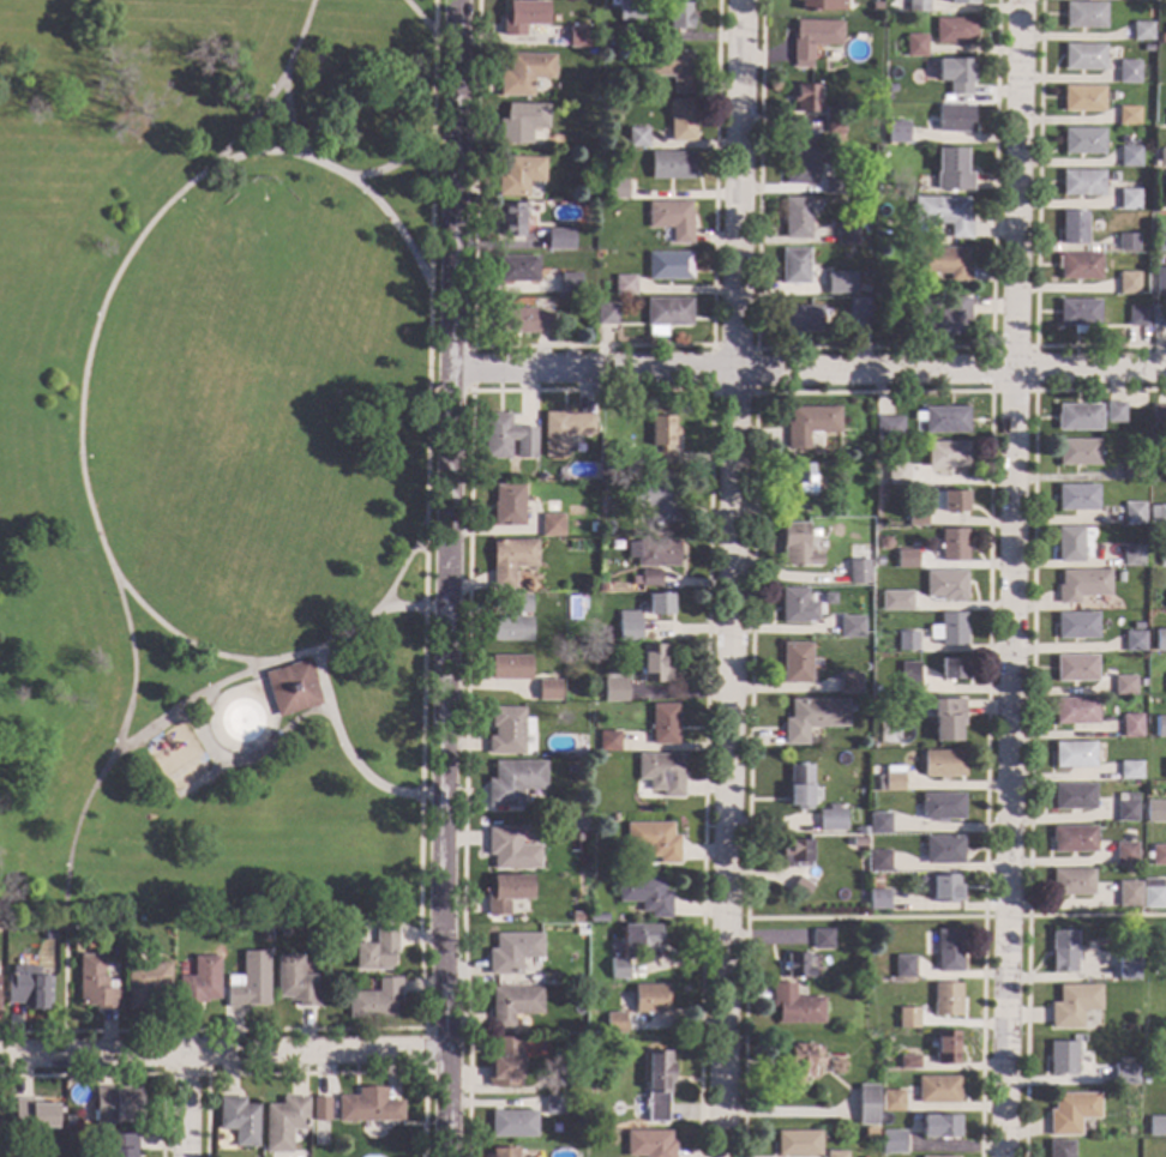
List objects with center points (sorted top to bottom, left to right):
building: (1138, 0)
building: (962, 1)
building: (1165, 1)
building: (822, 5)
building: (918, 5)
building: (876, 7)
building: (624, 11)
building: (633, 12)
building: (595, 13)
road: (417, 14)
building: (679, 16)
building: (1086, 16)
building: (523, 17)
building: (847, 28)
building: (955, 31)
building: (1142, 31)
building: (578, 37)
building: (813, 37)
building: (1161, 38)
building: (915, 46)
building: (1083, 58)
building: (673, 70)
building: (524, 73)
building: (957, 76)
building: (1128, 76)
road: (270, 91)
building: (889, 96)
building: (807, 100)
building: (1083, 100)
building: (1129, 116)
building: (952, 119)
building: (681, 121)
building: (522, 122)
building: (835, 123)
building: (897, 132)
building: (637, 138)
building: (1083, 141)
building: (1130, 157)
building: (1162, 158)
building: (1154, 164)
building: (671, 165)
road: (331, 167)
building: (801, 167)
building: (952, 170)
building: (519, 176)
building: (1113, 176)
building: (1083, 183)
building: (833, 186)
building: (617, 189)
building: (1129, 200)
building: (1164, 200)
building: (944, 215)
building: (1158, 217)
building: (797, 218)
building: (511, 219)
building: (672, 219)
building: (1075, 229)
building: (847, 234)
road: (1036, 237)
building: (560, 240)
building: (1128, 242)
building: (1161, 243)
building: (866, 260)
building: (945, 263)
building: (669, 266)
building: (794, 266)
building: (1081, 267)
building: (517, 269)
building: (1129, 283)
building: (570, 284)
building: (624, 284)
building: (1160, 284)
building: (817, 287)
park: (269, 294)
building: (567, 301)
building: (859, 307)
building: (668, 312)
building: (1080, 313)
building: (607, 314)
building: (1137, 317)
building: (1159, 317)
building: (803, 319)
building: (945, 319)
building: (524, 321)
road: (589, 347)
road: (872, 348)
road: (470, 369)
road: (807, 372)
road: (590, 390)
road: (1034, 391)
road: (872, 392)
road: (755, 393)
building: (1116, 412)
building: (1159, 416)
building: (1080, 417)
building: (944, 420)
building: (810, 426)
building: (890, 428)
building: (564, 432)
building: (506, 438)
building: (662, 440)
building: (1156, 442)
road: (79, 450)
building: (1078, 452)
building: (948, 454)
building: (1134, 470)
building: (1165, 472)
building: (891, 475)
building: (805, 480)
park: (217, 487)
building: (1078, 498)
building: (656, 501)
building: (950, 502)
building: (509, 506)
building: (836, 511)
road: (423, 514)
building: (1135, 514)
building: (1158, 514)
building: (916, 517)
building: (552, 526)
building: (607, 529)
building: (815, 534)
building: (884, 543)
building: (1071, 543)
building: (797, 546)
building: (954, 546)
building: (655, 553)
building: (1162, 555)
building: (1132, 556)
building: (906, 559)
building: (511, 561)
building: (859, 572)
road: (447, 578)
building: (650, 578)
road: (731, 578)
road: (1011, 578)
building: (945, 585)
building: (1082, 585)
building: (601, 589)
building: (1165, 597)
building: (895, 602)
building: (521, 604)
building: (660, 604)
building: (797, 607)
building: (630, 625)
building: (851, 626)
building: (1076, 626)
building: (511, 628)
building: (949, 628)
building: (1159, 640)
building: (907, 641)
building: (1134, 641)
road: (269, 658)
building: (797, 663)
building: (655, 664)
building: (511, 668)
building: (952, 668)
building: (1075, 669)
road: (323, 674)
building: (908, 677)
building: (849, 683)
building: (1124, 686)
building: (293, 688)
building: (615, 688)
building: (549, 691)
building: (876, 691)
road: (181, 704)
road: (1029, 709)
building: (1075, 711)
building: (809, 719)
building: (946, 719)
building: (665, 725)
building: (1130, 725)
building: (1160, 727)
building: (509, 730)
building: (609, 742)
building: (1074, 755)
building: (943, 764)
building: (572, 769)
building: (1165, 769)
building: (1130, 770)
building: (661, 773)
building: (891, 779)
building: (515, 782)
building: (800, 785)
building: (1074, 797)
building: (942, 807)
building: (1125, 812)
building: (1155, 813)
building: (614, 819)
building: (831, 819)
building: (879, 824)
building: (1074, 839)
building: (654, 842)
building: (943, 850)
building: (512, 851)
building: (797, 854)
building: (1125, 854)
building: (1159, 856)
building: (879, 861)
building: (1072, 882)
building: (800, 888)
building: (945, 888)
building: (506, 893)
building: (1129, 894)
building: (1153, 894)
building: (647, 896)
building: (879, 900)
building: (560, 908)
road: (1096, 915)
road: (1004, 916)
building: (577, 917)
building: (597, 917)
road: (864, 918)
building: (284, 932)
road: (763, 939)
building: (823, 939)
building: (635, 946)
building: (1063, 951)
building: (378, 952)
building: (949, 952)
building: (512, 953)
building: (799, 968)
building: (904, 968)
building: (1108, 969)
building: (1156, 972)
building: (1165, 972)
building: (860, 974)
building: (1123, 974)
building: (571, 980)
building: (581, 980)
building: (295, 982)
building: (95, 983)
building: (145, 983)
building: (200, 983)
building: (248, 986)
building: (29, 988)
building: (579, 992)
building: (650, 999)
building: (946, 1000)
building: (375, 1001)
building: (513, 1006)
building: (797, 1006)
building: (1074, 1006)
building: (909, 1019)
building: (615, 1023)
road: (313, 1030)
road: (101, 1031)
building: (1086, 1045)
building: (946, 1048)
road: (425, 1051)
road: (223, 1056)
building: (1063, 1059)
building: (504, 1062)
building: (799, 1062)
building: (909, 1063)
building: (839, 1066)
road: (205, 1074)
road: (315, 1074)
building: (1123, 1074)
road: (82, 1077)
building: (579, 1080)
building: (657, 1086)
building: (938, 1090)
building: (892, 1101)
building: (118, 1104)
building: (552, 1104)
building: (867, 1104)
road: (186, 1107)
building: (368, 1108)
building: (320, 1109)
building: (1071, 1113)
building: (32, 1116)
building: (68, 1120)
building: (239, 1121)
building: (578, 1121)
building: (284, 1122)
building: (512, 1125)
building: (1156, 1126)
building: (939, 1127)
building: (68, 1137)
building: (590, 1141)
building: (894, 1143)
building: (649, 1144)
building: (798, 1144)
building: (120, 1145)
building: (1060, 1149)
building: (504, 1153)
building: (835, 1155)
building: (939, 1156)

